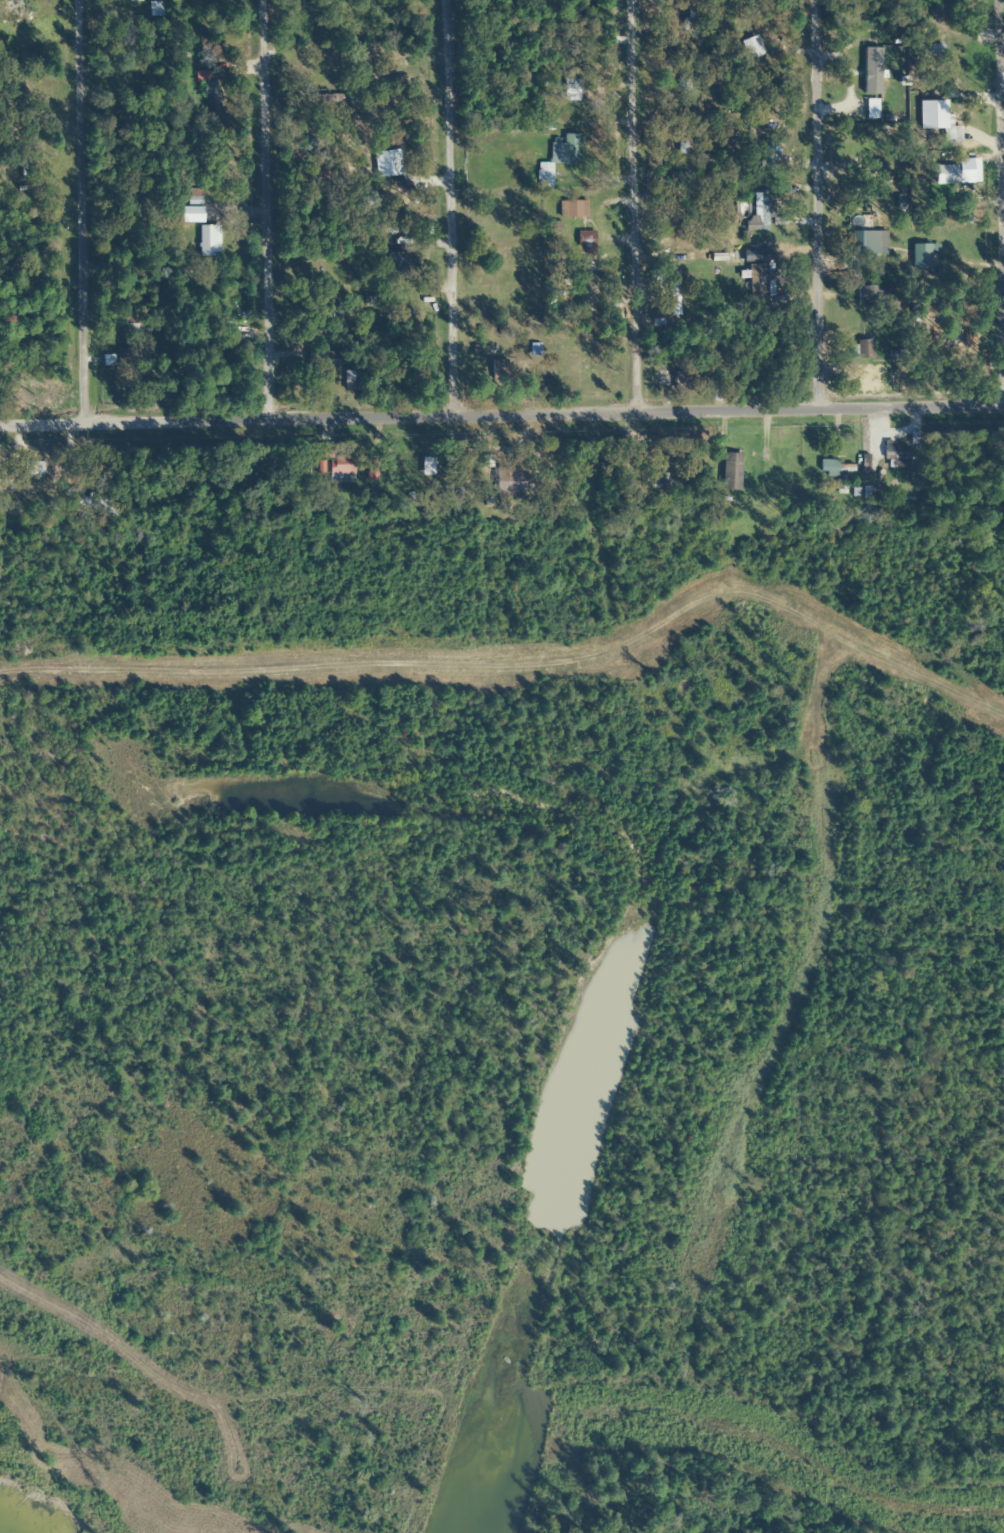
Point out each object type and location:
building: (11, 5)
building: (942, 7)
building: (691, 22)
building: (929, 50)
building: (200, 78)
building: (570, 93)
building: (684, 146)
building: (557, 159)
building: (386, 163)
building: (12, 172)
building: (953, 175)
road: (1002, 190)
road: (611, 191)
road: (799, 191)
road: (251, 193)
road: (431, 193)
road: (67, 196)
building: (194, 197)
building: (761, 212)
building: (206, 241)
building: (583, 243)
building: (859, 243)
building: (394, 264)
building: (674, 297)
building: (136, 324)
building: (208, 346)
building: (863, 350)
building: (325, 360)
building: (904, 374)
building: (863, 375)
building: (672, 379)
building: (350, 381)
road: (501, 385)
building: (895, 452)
building: (336, 464)
building: (846, 467)
building: (33, 469)
building: (730, 472)
building: (510, 482)
road: (112, 1452)

